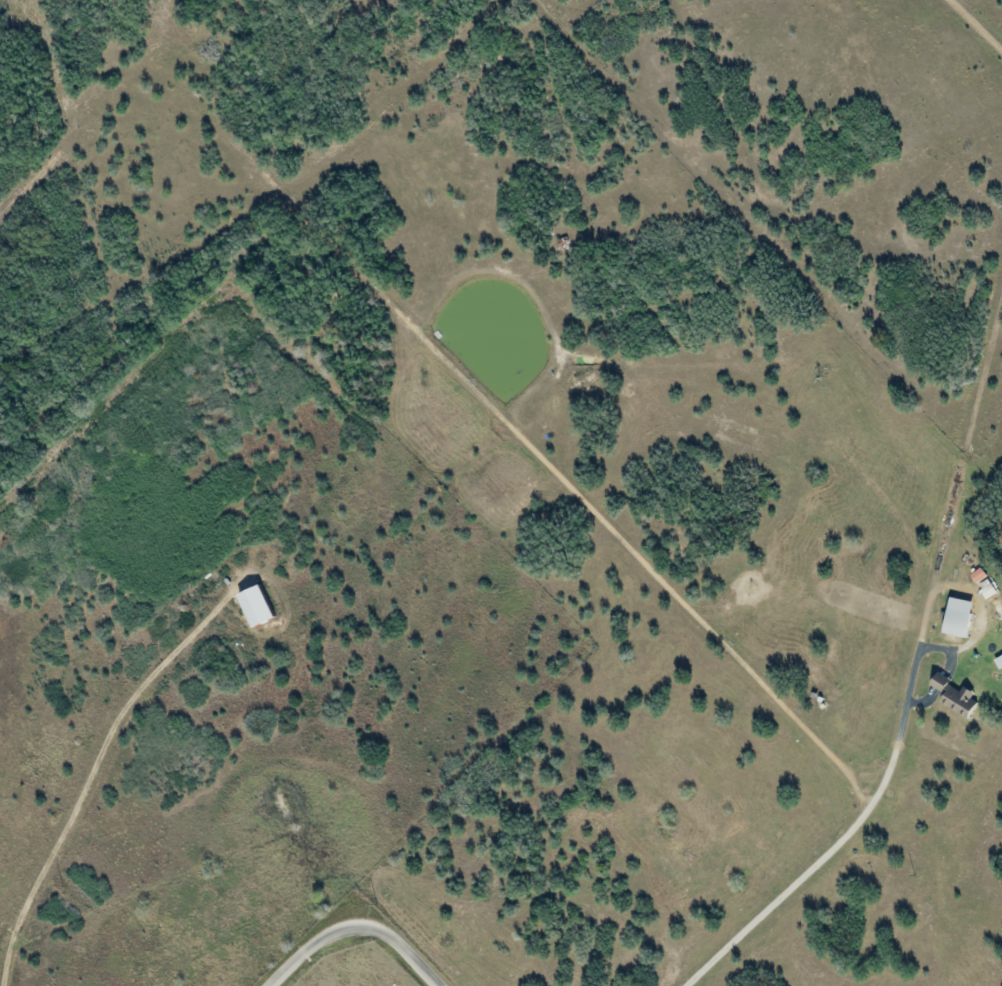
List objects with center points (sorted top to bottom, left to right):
building: (979, 575)
building: (989, 591)
building: (257, 605)
building: (958, 617)
building: (999, 661)
building: (956, 696)
road: (845, 836)
road: (626, 880)
road: (360, 924)

